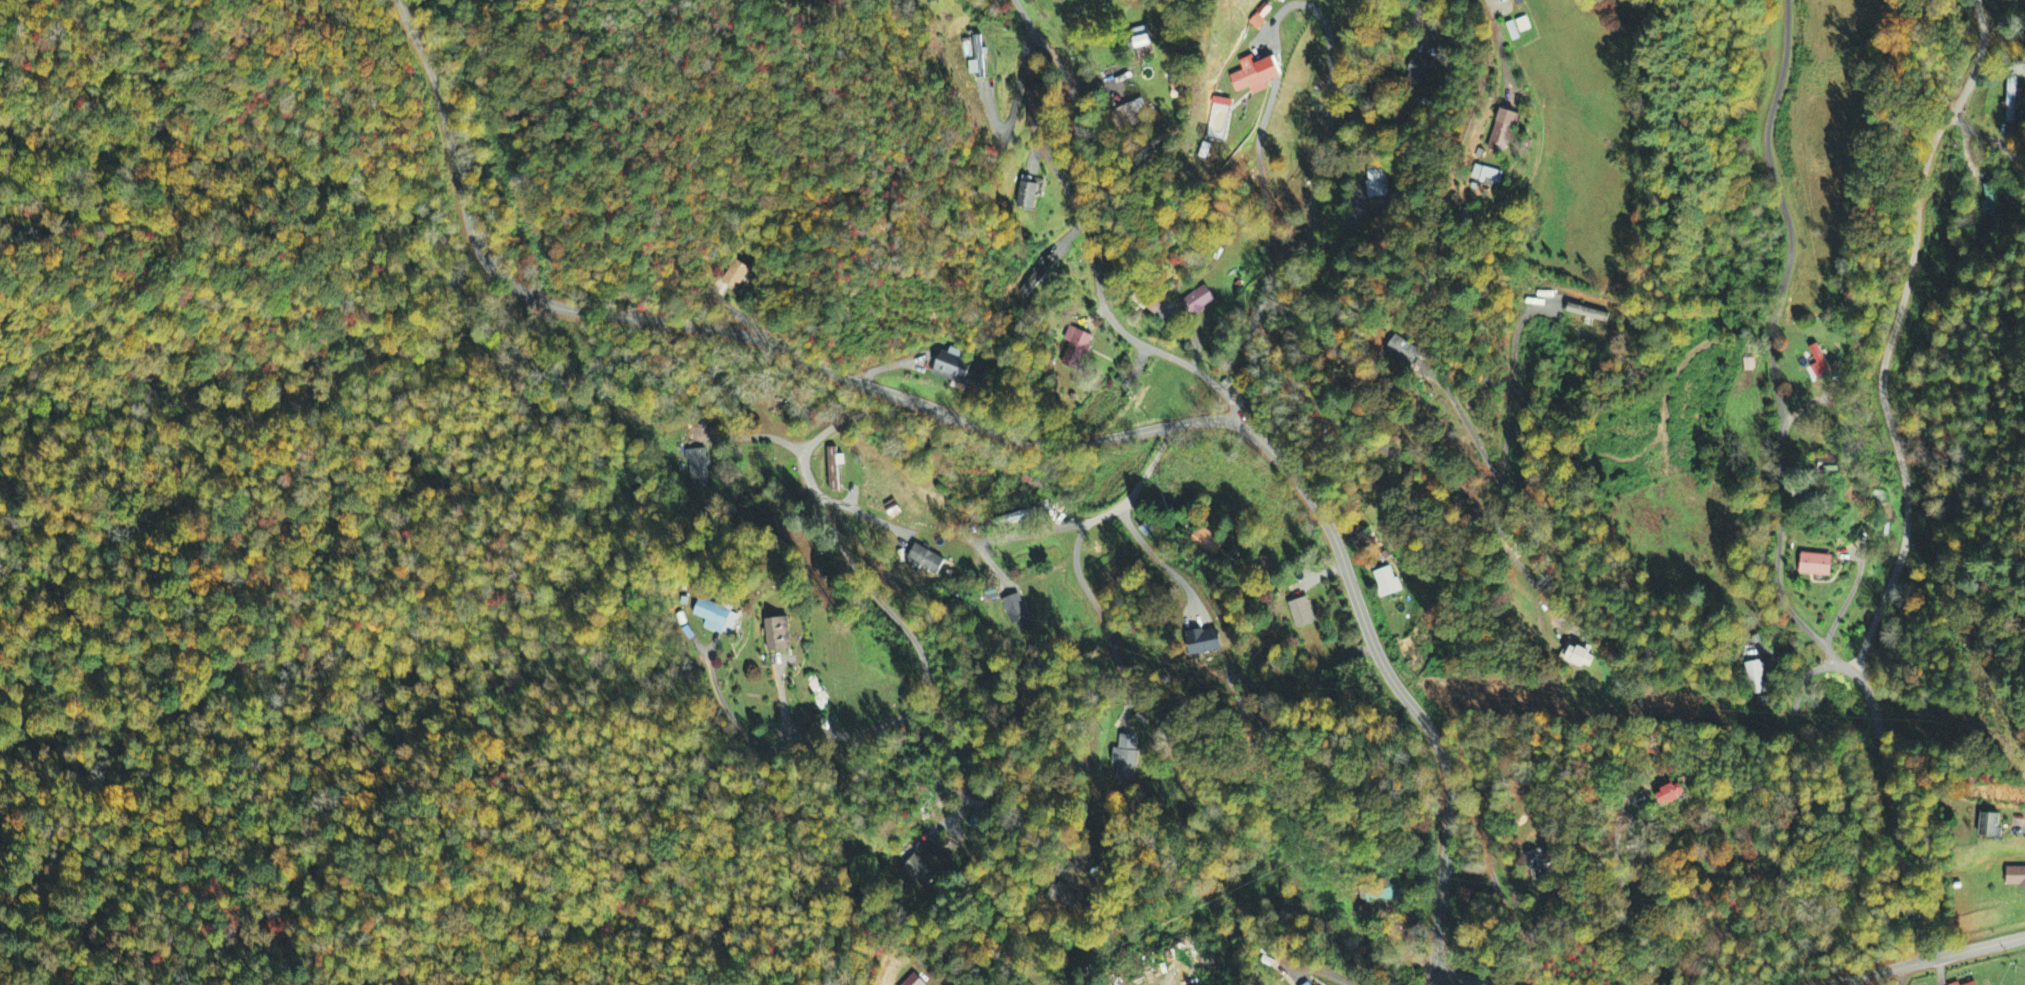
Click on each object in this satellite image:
building: (1259, 18)
building: (1518, 28)
building: (1143, 43)
road: (1502, 51)
building: (975, 59)
building: (1419, 73)
building: (1256, 76)
road: (1371, 83)
building: (1176, 89)
building: (2010, 100)
building: (1035, 105)
building: (1129, 113)
building: (1505, 132)
road: (1989, 141)
road: (1770, 164)
building: (1490, 176)
building: (1375, 183)
road: (1263, 184)
road: (1312, 192)
building: (1027, 194)
building: (1991, 202)
road: (1091, 227)
building: (735, 276)
building: (1037, 279)
building: (1198, 302)
building: (1587, 314)
road: (1891, 335)
building: (1075, 349)
building: (1407, 352)
building: (1819, 363)
building: (1748, 366)
building: (952, 367)
road: (1808, 402)
road: (1012, 434)
road: (1482, 445)
road: (1412, 459)
building: (1828, 466)
building: (834, 469)
building: (698, 471)
road: (1779, 514)
road: (916, 531)
building: (1207, 543)
building: (925, 560)
building: (1816, 566)
building: (1386, 583)
road: (1846, 598)
building: (1017, 613)
building: (1301, 614)
building: (715, 618)
road: (1102, 619)
building: (778, 636)
building: (1208, 645)
building: (1582, 659)
building: (1755, 678)
road: (901, 714)
road: (956, 758)
building: (1125, 758)
road: (1018, 787)
building: (1671, 796)
road: (1895, 815)
building: (1989, 823)
road: (1771, 857)
building: (1538, 864)
building: (919, 872)
building: (2016, 878)
building: (1378, 894)
building: (1062, 897)
road: (1925, 963)
road: (1321, 973)
road: (1899, 976)
road: (1434, 979)
road: (1462, 979)
building: (914, 981)
building: (1966, 981)
building: (1309, 984)

